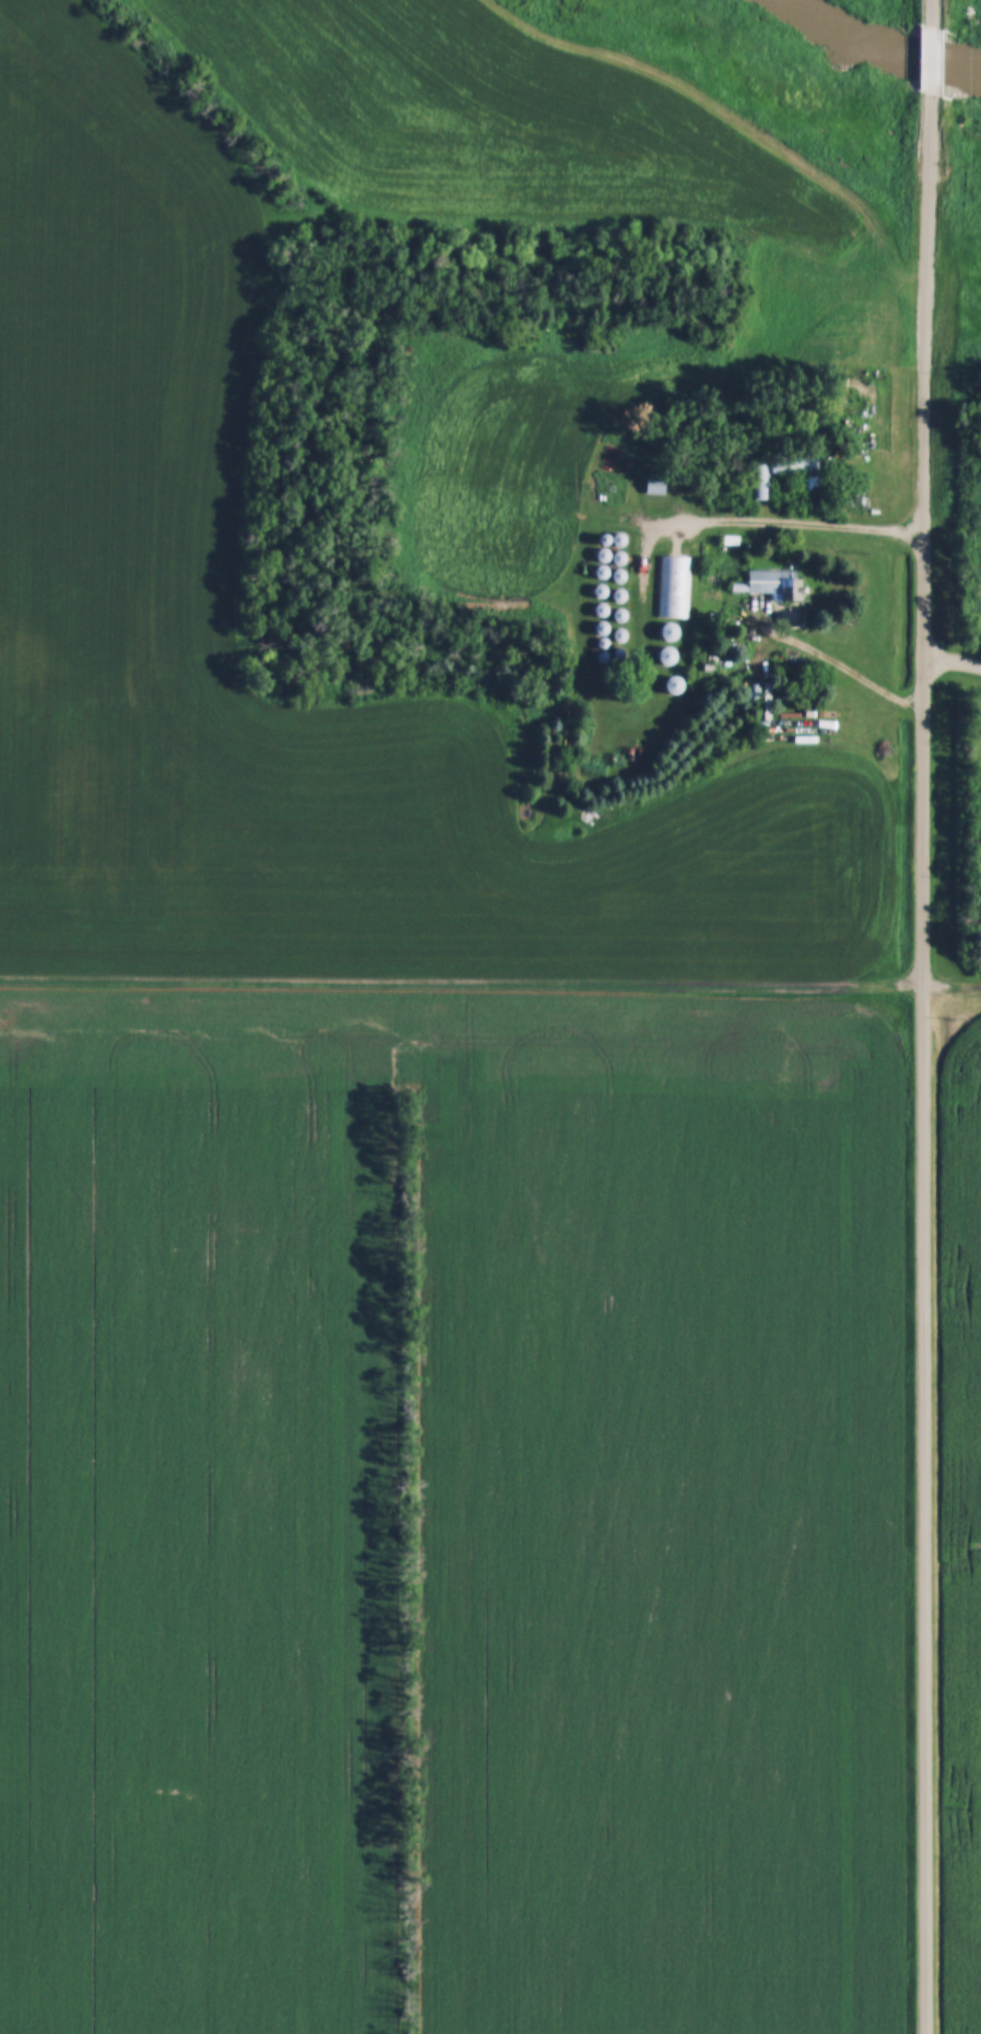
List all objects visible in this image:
river: (850, 15)
road: (922, 15)
river: (933, 55)
road: (922, 61)
building: (763, 482)
road: (761, 522)
building: (771, 583)
road: (954, 658)
road: (848, 666)
road: (490, 977)
road: (925, 1063)
crop: (961, 1531)

